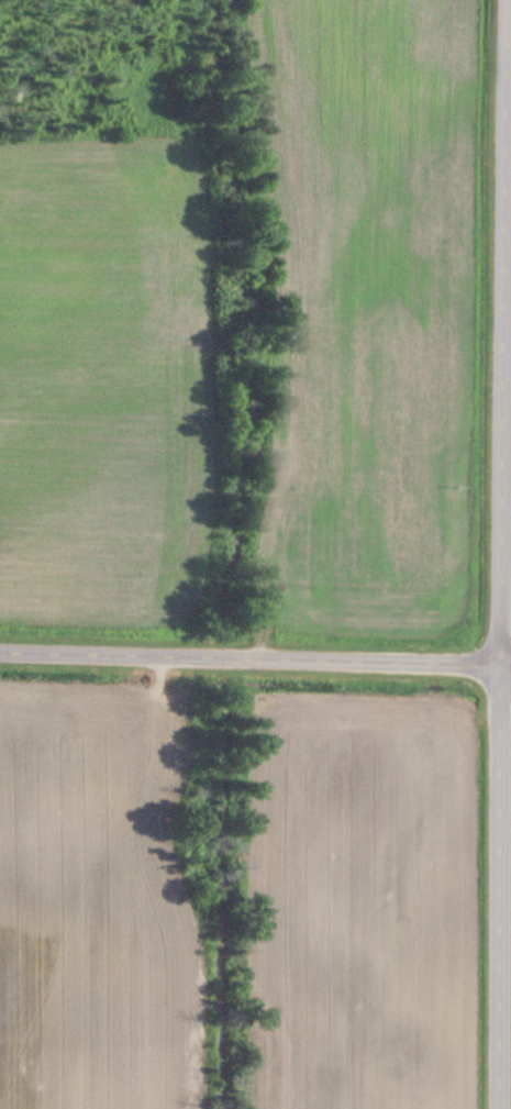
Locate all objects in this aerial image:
road: (503, 554)
road: (255, 658)

